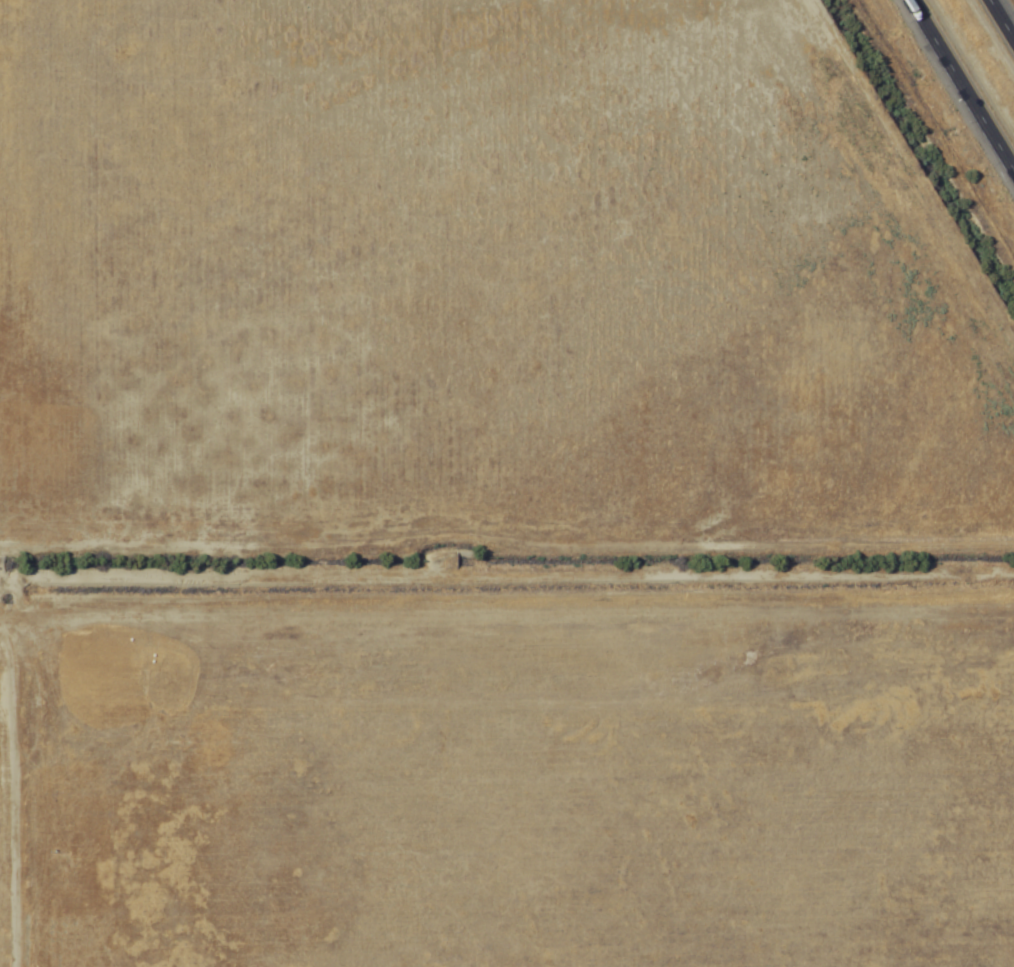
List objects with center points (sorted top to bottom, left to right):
road: (1004, 15)
road: (963, 83)

